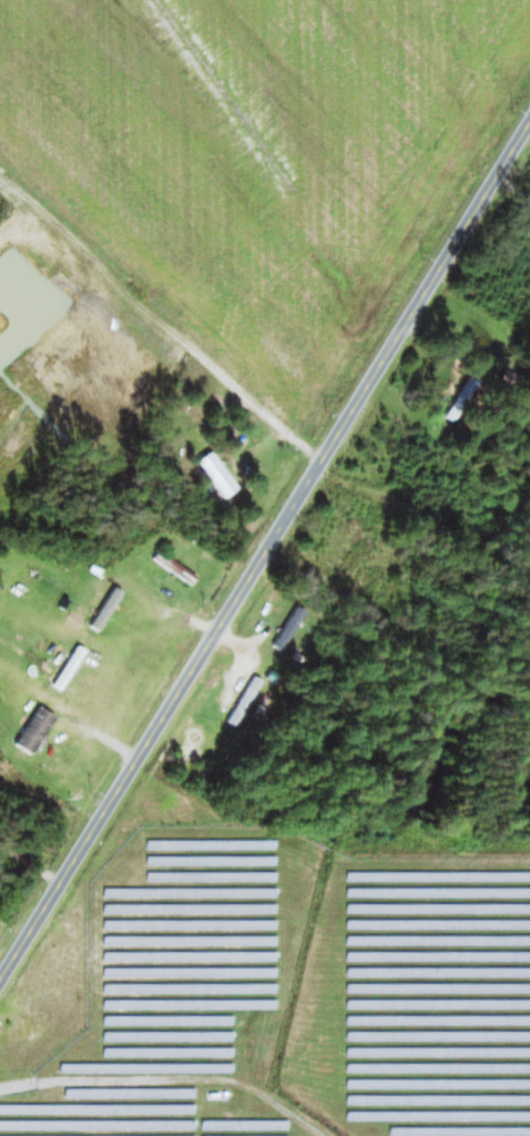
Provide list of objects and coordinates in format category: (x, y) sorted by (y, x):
building: (509, 301)
road: (152, 351)
building: (458, 406)
building: (458, 509)
road: (266, 554)
building: (175, 567)
building: (106, 607)
building: (71, 666)
building: (247, 701)
building: (38, 728)
solar farm: (293, 994)

